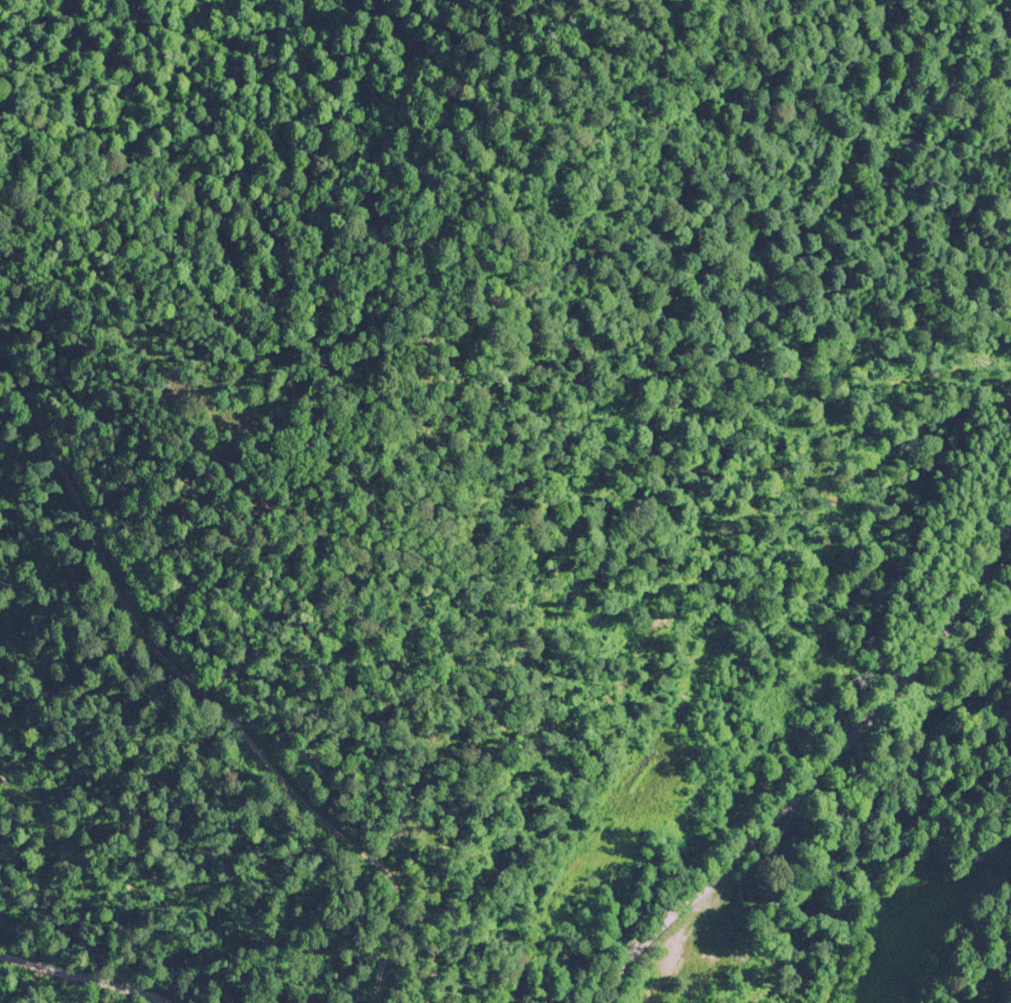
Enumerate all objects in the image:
road: (825, 783)

